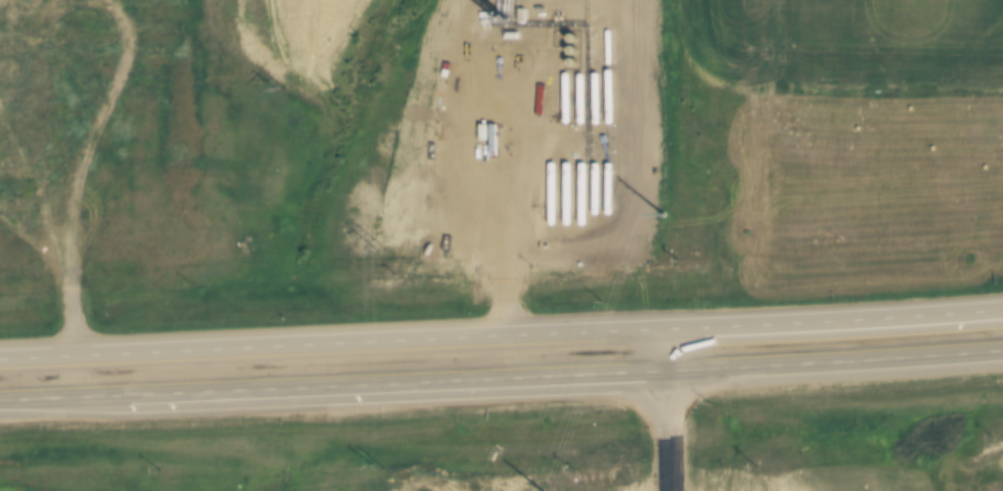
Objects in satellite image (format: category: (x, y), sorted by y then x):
road: (51, 25)
building: (101, 49)
building: (44, 86)
road: (84, 162)
building: (18, 165)
power tower: (662, 213)
road: (838, 321)
road: (499, 339)
road: (162, 351)
road: (839, 360)
road: (500, 378)
road: (162, 393)
road: (675, 411)

